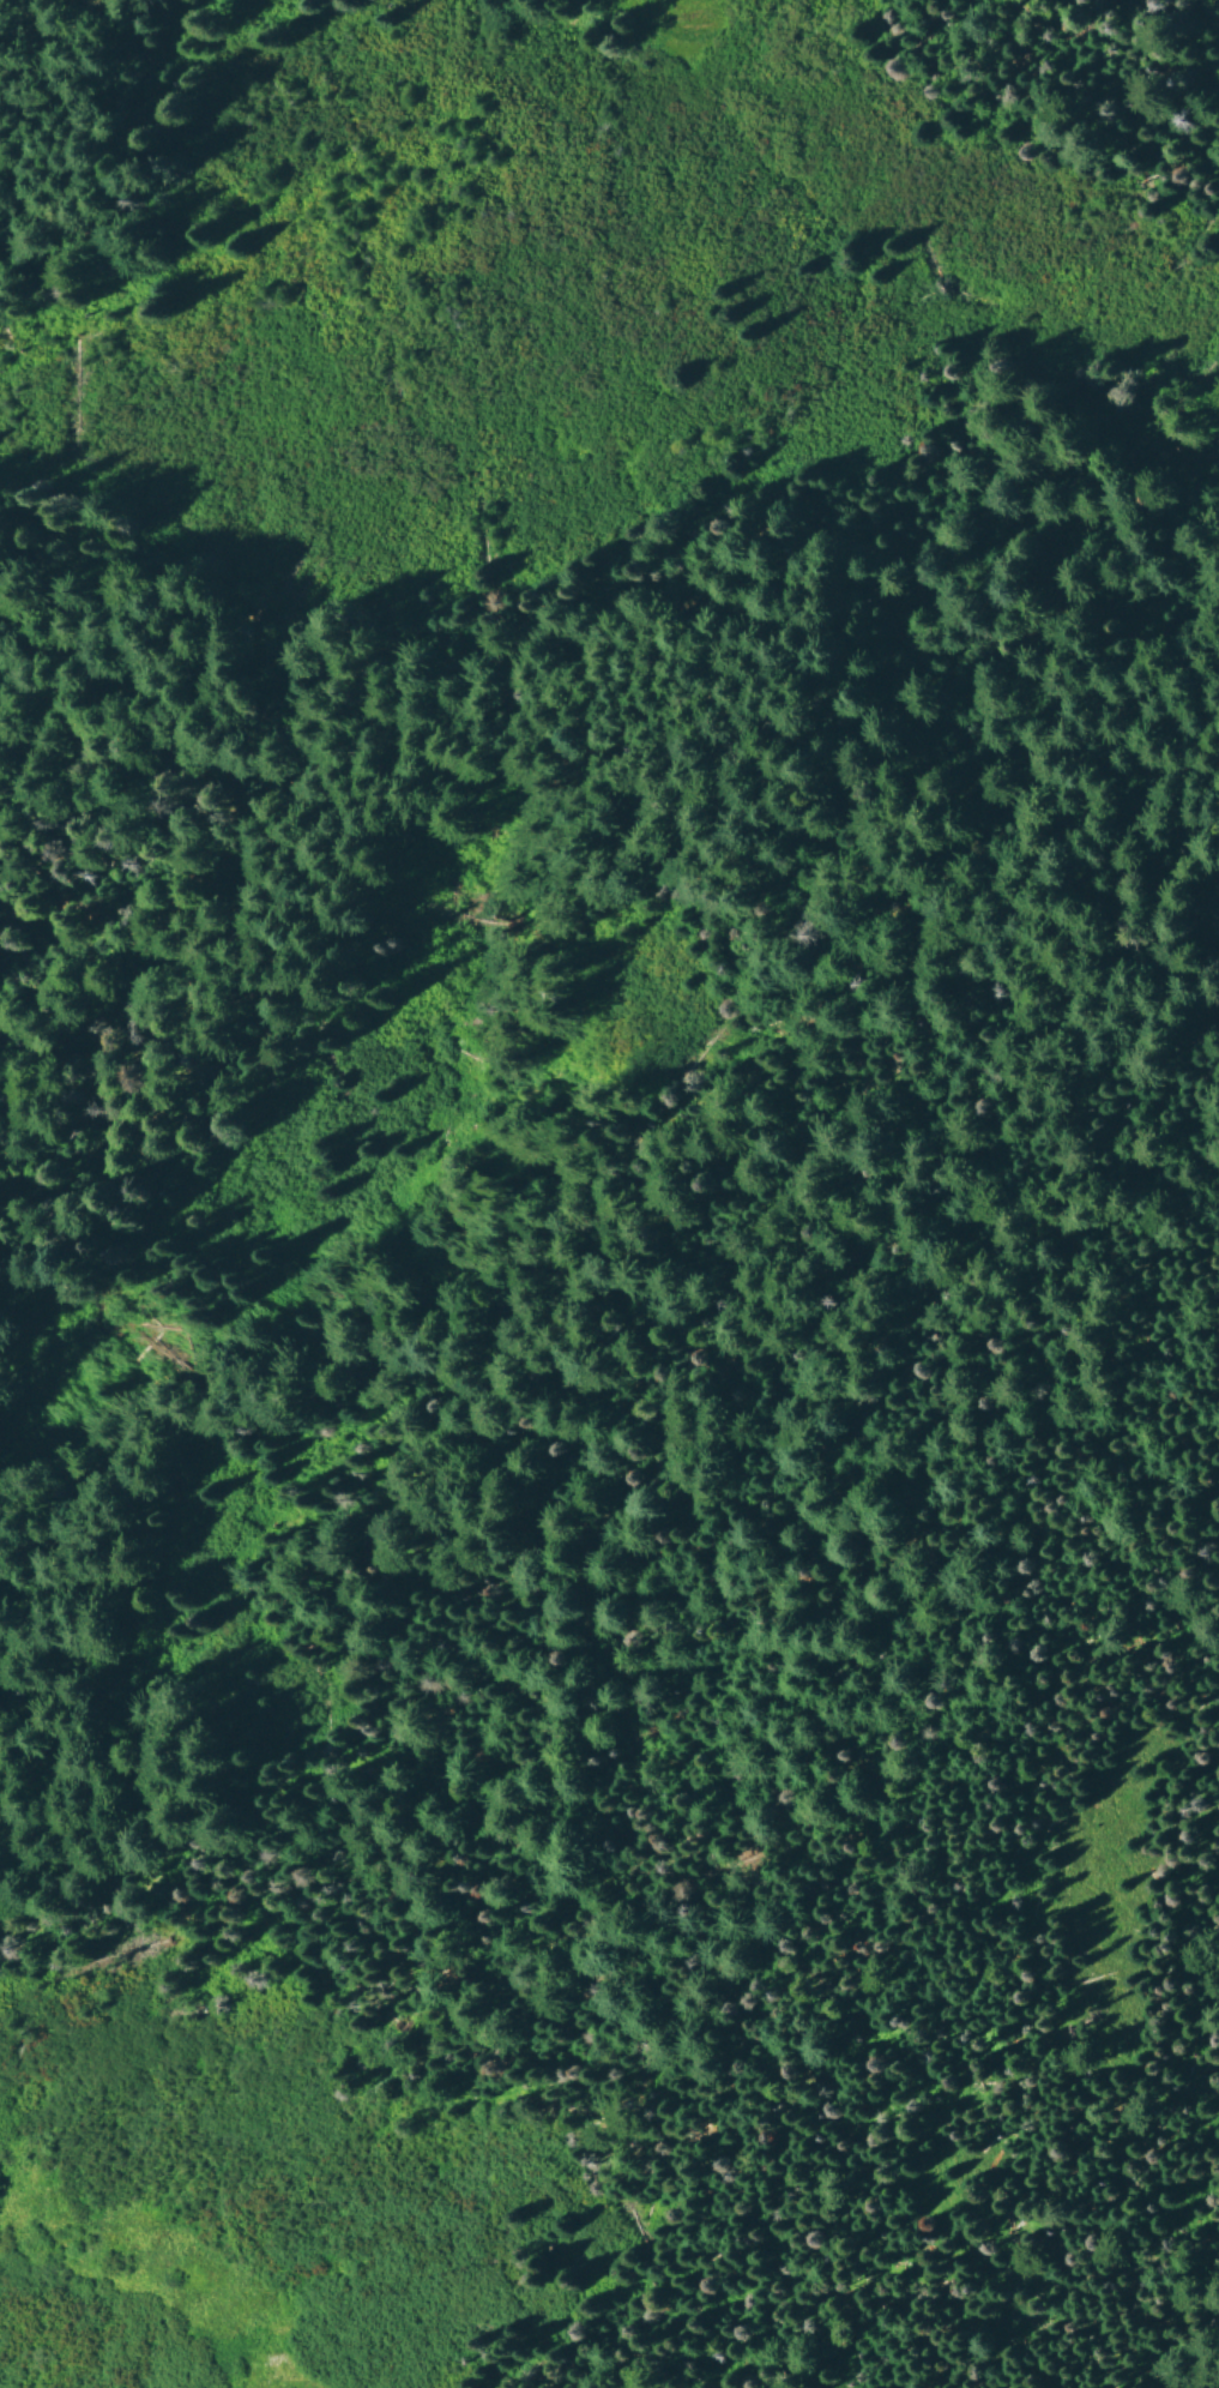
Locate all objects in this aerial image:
road: (1209, 2260)

